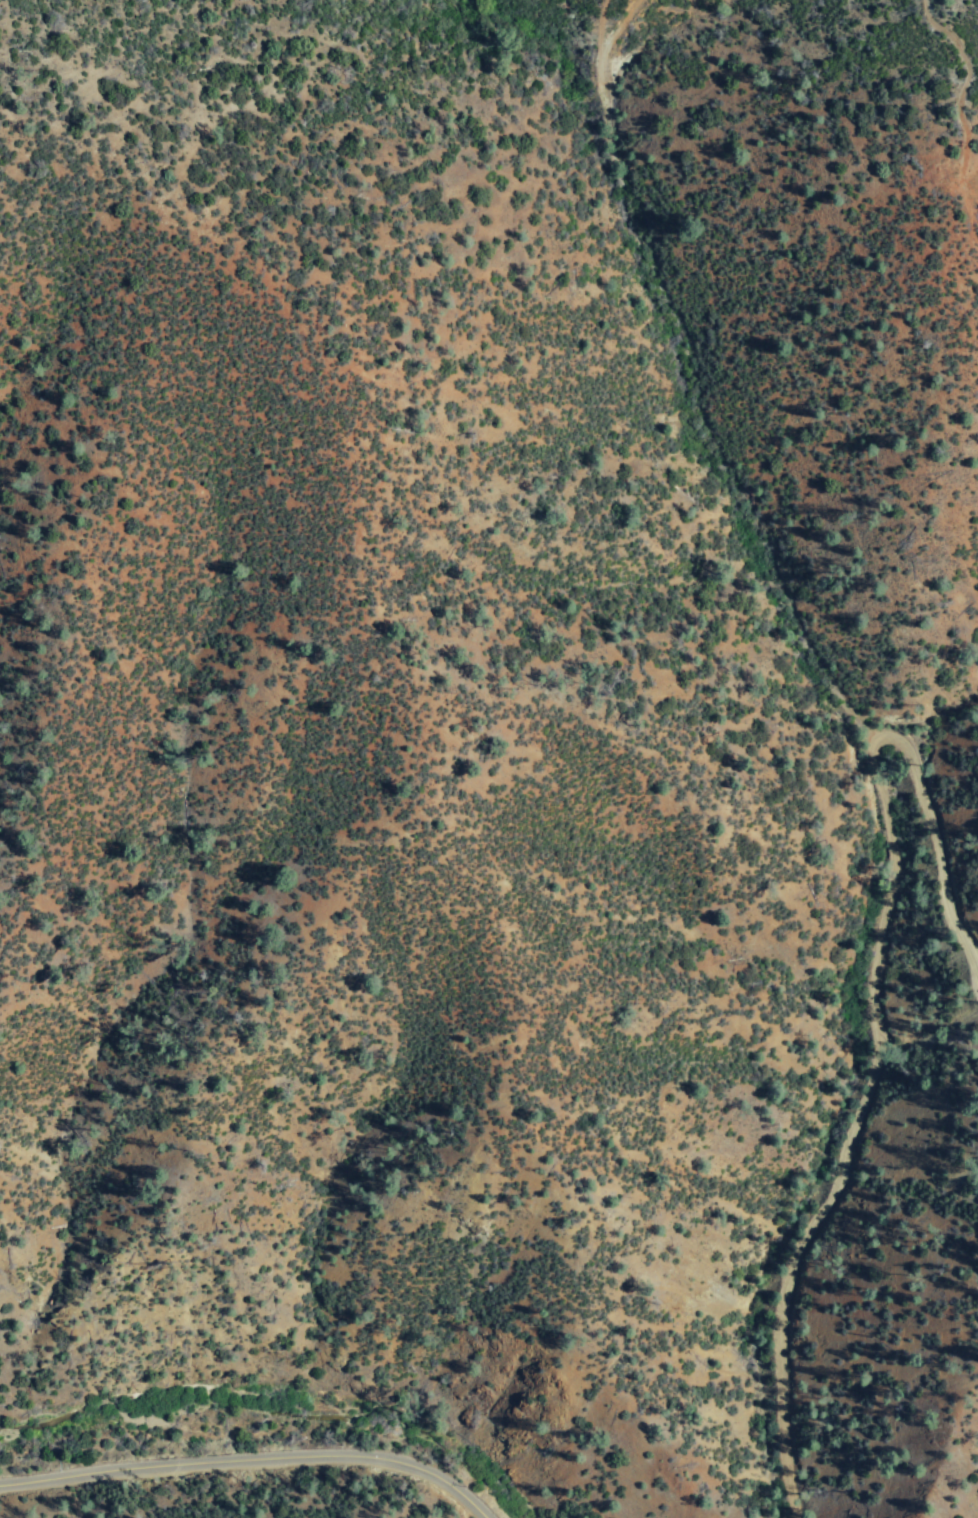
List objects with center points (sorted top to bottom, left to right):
road: (247, 1454)

